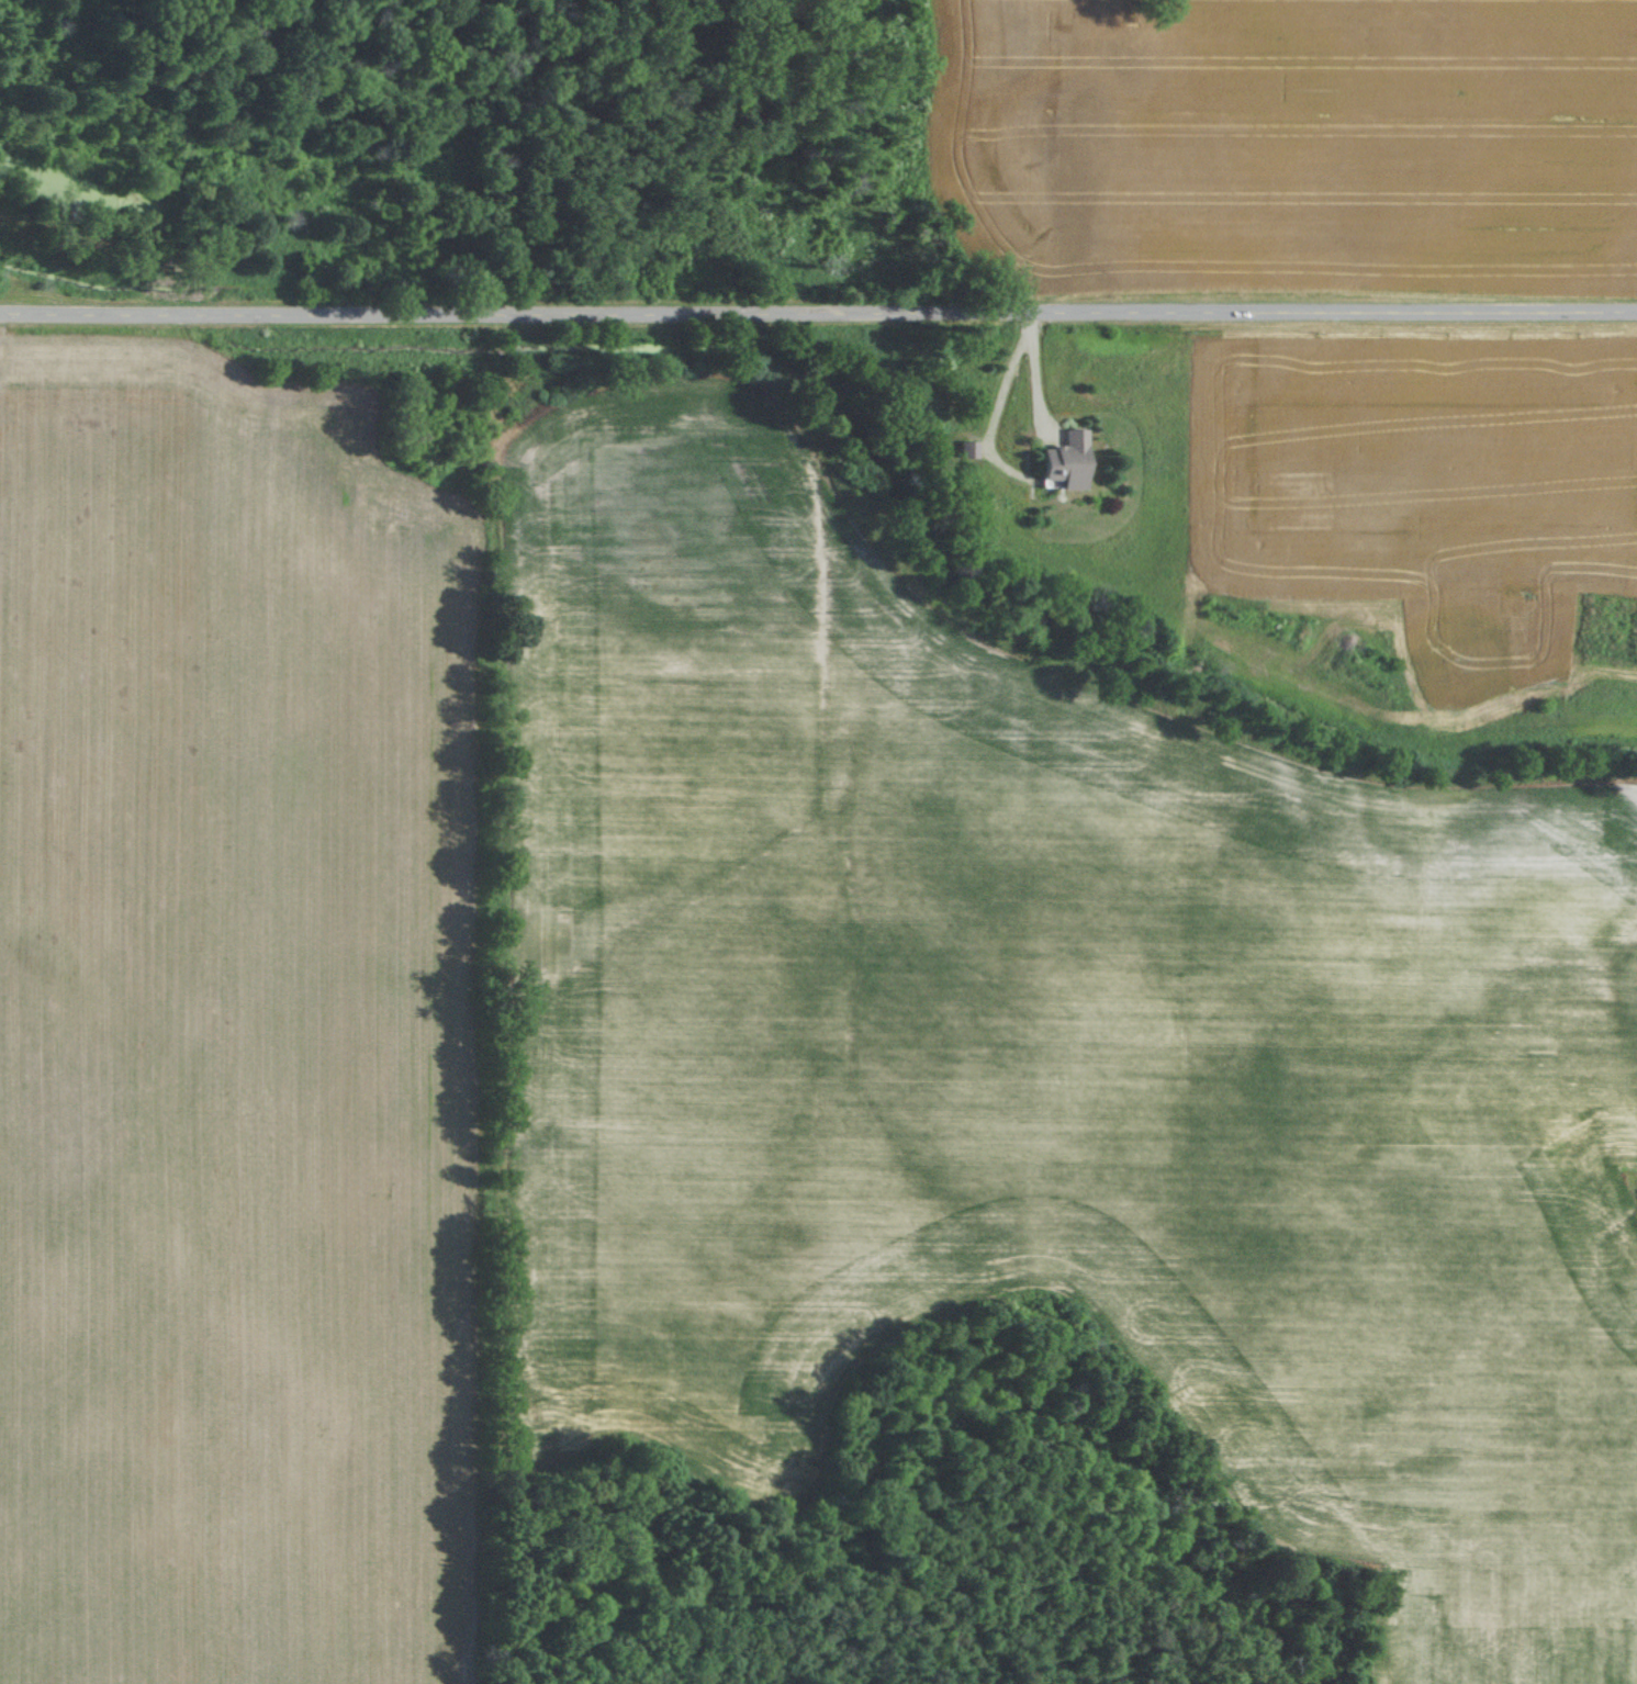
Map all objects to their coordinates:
road: (818, 313)
road: (1036, 371)
building: (967, 449)
building: (1058, 460)

